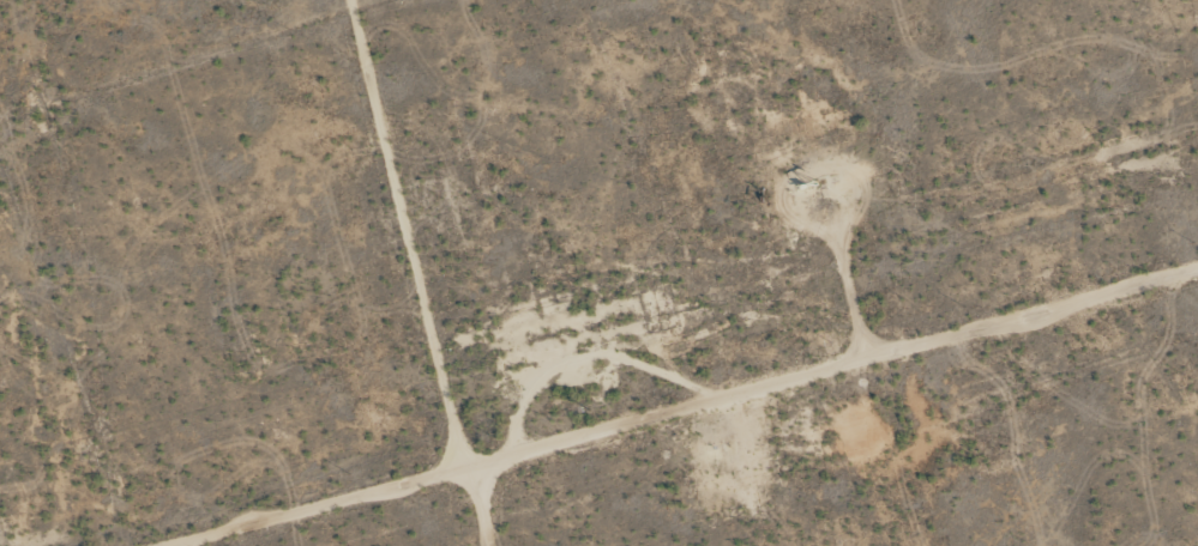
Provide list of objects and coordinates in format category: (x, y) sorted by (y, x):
road: (603, 394)

